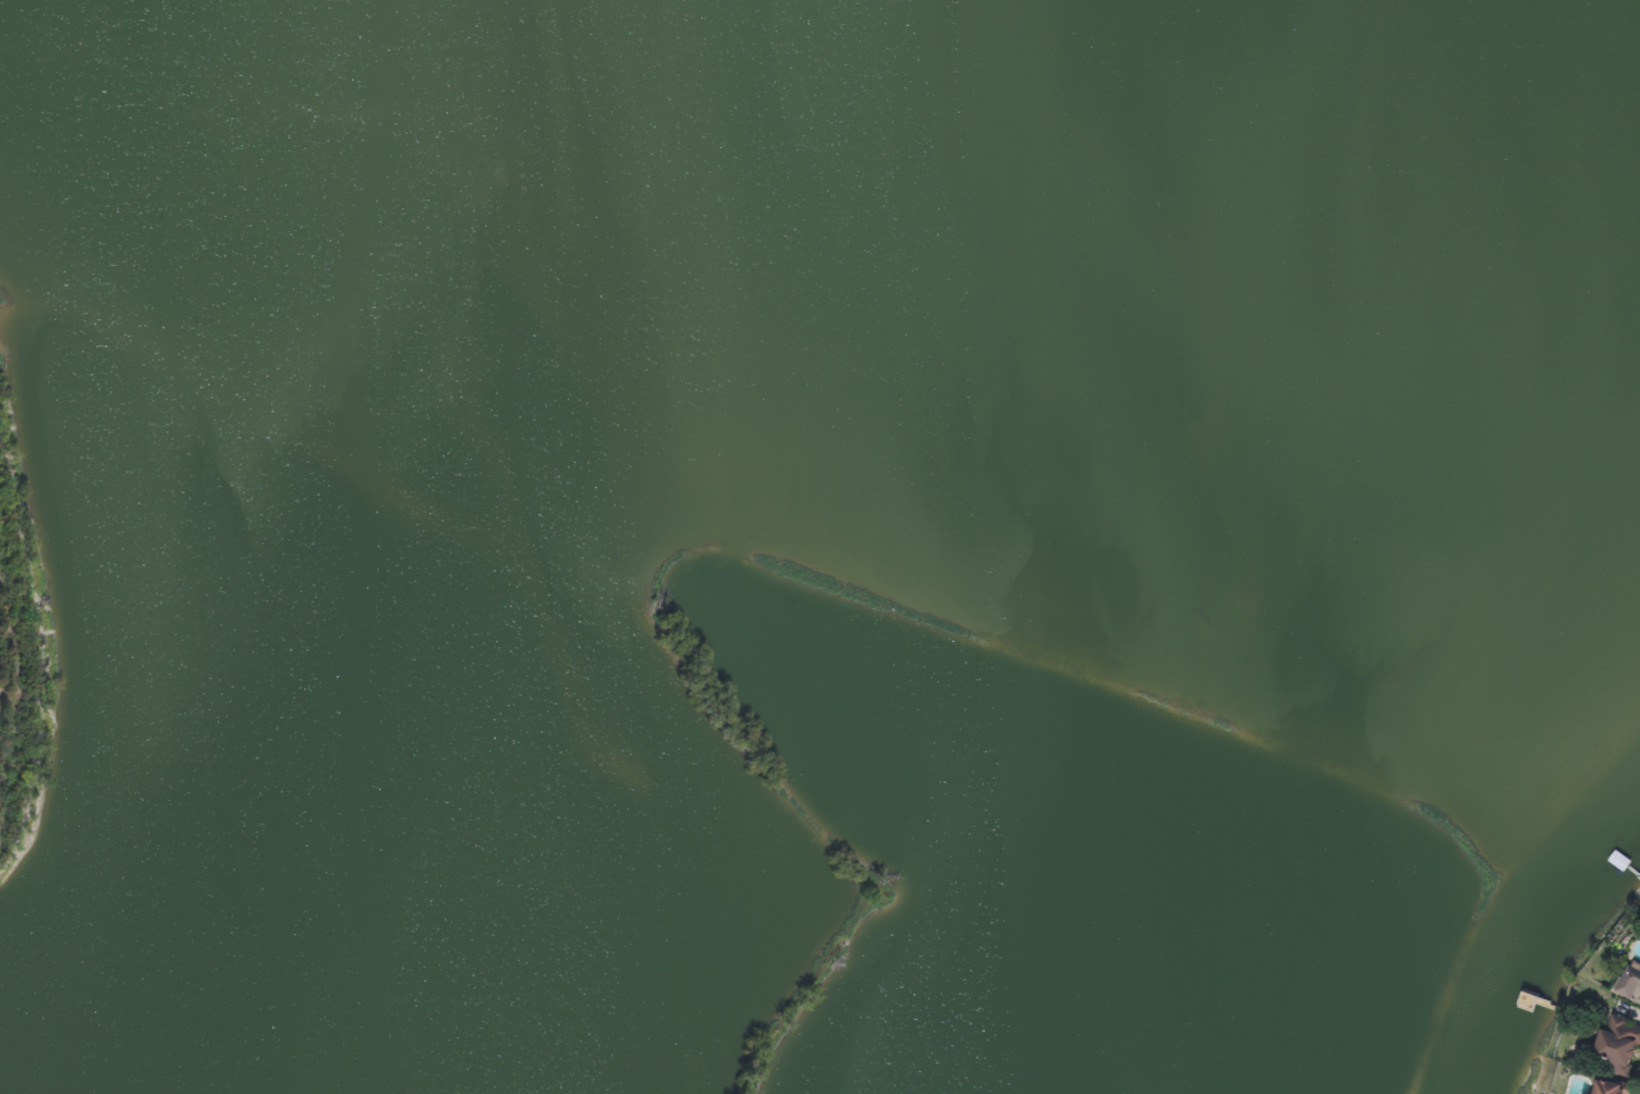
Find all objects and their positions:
building: (1629, 985)
building: (1618, 1046)
building: (1607, 1089)

